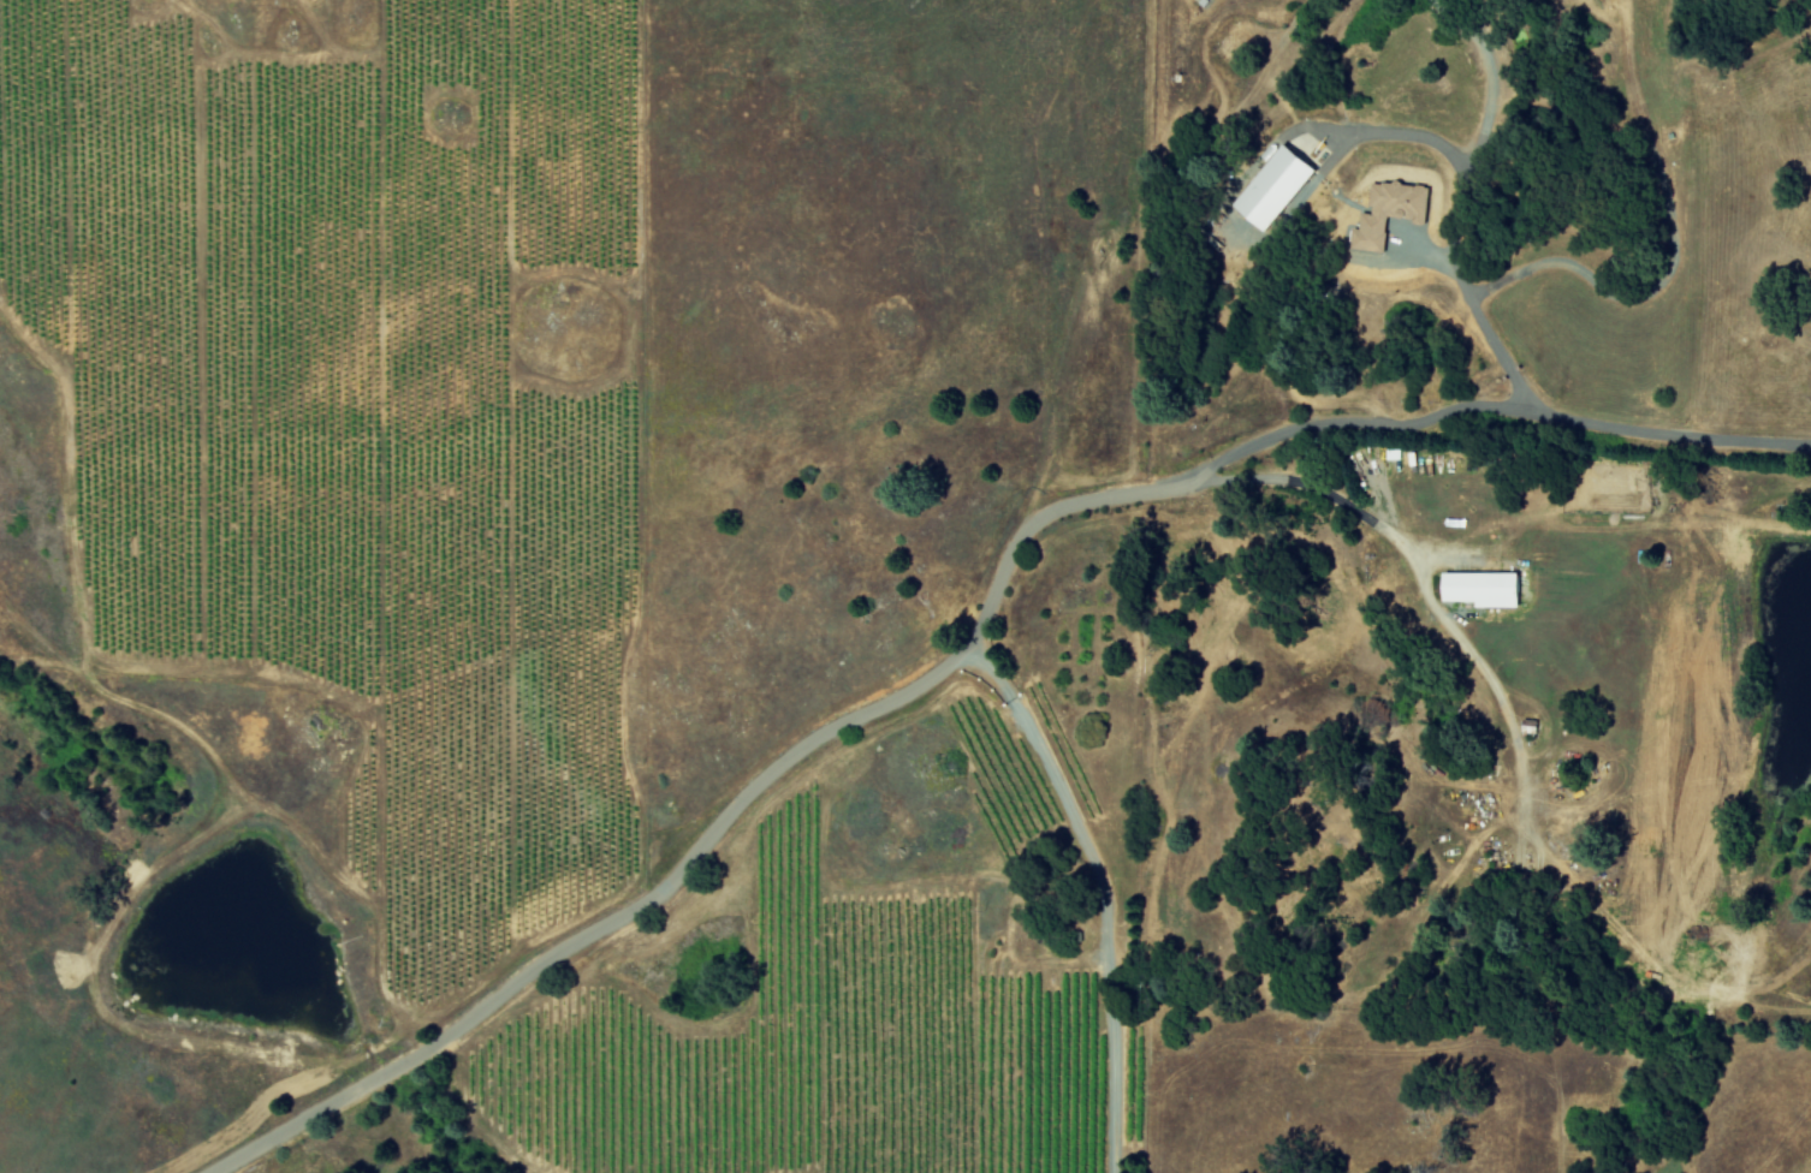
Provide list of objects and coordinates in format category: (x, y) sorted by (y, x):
road: (1478, 130)
road: (1406, 131)
building: (1279, 185)
building: (1393, 210)
road: (1483, 320)
road: (1300, 483)
building: (1486, 588)
road: (964, 642)
road: (1103, 889)
crop: (238, 1167)

